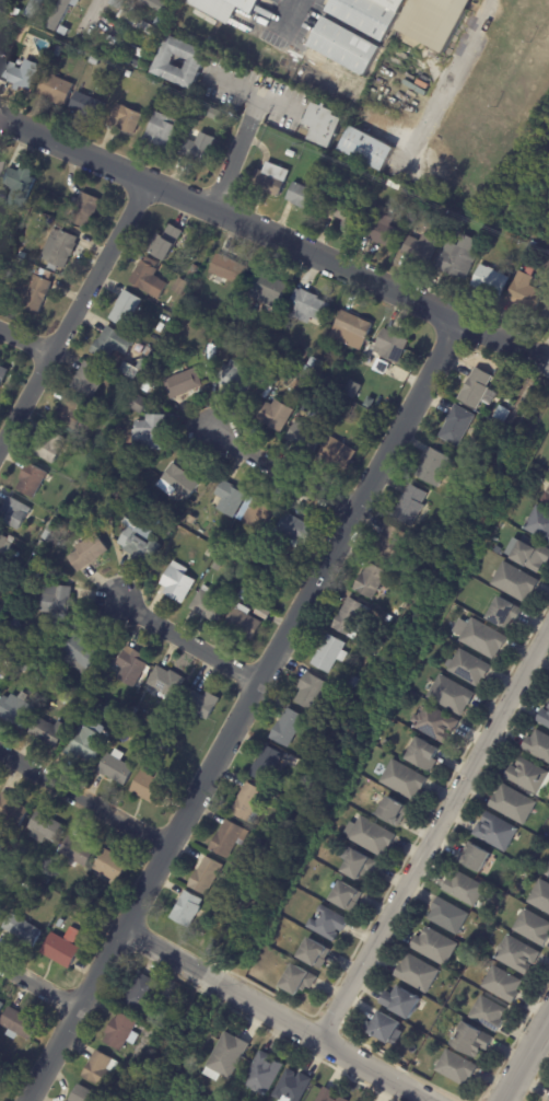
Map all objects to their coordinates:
building: (170, 1)
building: (118, 2)
building: (7, 3)
building: (154, 4)
building: (226, 7)
building: (34, 8)
building: (60, 13)
road: (98, 15)
road: (285, 15)
building: (371, 15)
building: (45, 16)
building: (139, 21)
building: (435, 21)
building: (162, 22)
building: (65, 31)
building: (127, 46)
building: (347, 46)
building: (57, 49)
building: (0, 55)
building: (95, 61)
building: (168, 62)
building: (142, 63)
building: (21, 73)
road: (448, 73)
building: (129, 74)
building: (57, 89)
building: (189, 96)
road: (257, 98)
building: (86, 104)
building: (217, 109)
building: (128, 118)
building: (325, 124)
building: (163, 131)
building: (369, 149)
building: (201, 150)
building: (292, 153)
road: (235, 155)
building: (1, 164)
building: (269, 182)
building: (20, 187)
building: (307, 197)
building: (86, 210)
building: (348, 212)
building: (2, 217)
road: (226, 219)
building: (14, 230)
building: (383, 231)
building: (9, 242)
building: (167, 243)
building: (61, 248)
building: (422, 248)
building: (530, 251)
building: (458, 259)
building: (230, 269)
building: (195, 271)
building: (150, 279)
building: (491, 281)
building: (183, 287)
building: (271, 288)
building: (525, 290)
building: (37, 293)
building: (190, 300)
building: (173, 305)
building: (311, 306)
building: (127, 309)
building: (547, 312)
road: (73, 315)
building: (168, 318)
building: (162, 327)
building: (353, 331)
road: (500, 341)
building: (242, 343)
building: (114, 344)
building: (392, 346)
road: (24, 347)
building: (149, 351)
building: (303, 356)
building: (272, 362)
building: (314, 362)
building: (307, 369)
building: (132, 371)
building: (3, 375)
building: (237, 379)
building: (91, 382)
building: (185, 384)
building: (149, 386)
building: (477, 387)
building: (354, 389)
building: (272, 394)
building: (140, 404)
building: (71, 414)
building: (504, 415)
building: (277, 416)
building: (458, 426)
building: (119, 430)
building: (151, 433)
building: (306, 437)
building: (52, 448)
building: (87, 452)
building: (339, 452)
building: (435, 468)
building: (539, 474)
road: (280, 475)
building: (33, 480)
building: (178, 483)
building: (230, 498)
building: (118, 499)
building: (547, 499)
building: (247, 505)
building: (412, 505)
building: (15, 513)
building: (540, 523)
building: (50, 531)
building: (292, 531)
building: (140, 542)
building: (394, 543)
building: (40, 544)
building: (7, 545)
building: (166, 545)
building: (87, 552)
building: (208, 553)
building: (532, 554)
building: (217, 567)
building: (264, 568)
building: (38, 575)
building: (372, 581)
building: (178, 582)
building: (516, 582)
building: (245, 594)
building: (56, 601)
building: (210, 605)
building: (504, 613)
building: (264, 614)
building: (352, 618)
building: (388, 619)
building: (244, 623)
building: (15, 625)
building: (482, 638)
road: (183, 645)
building: (82, 651)
building: (329, 653)
building: (62, 656)
building: (32, 659)
building: (132, 667)
building: (470, 668)
building: (24, 669)
building: (63, 676)
building: (167, 682)
building: (354, 682)
building: (93, 689)
building: (312, 691)
building: (452, 696)
building: (201, 704)
building: (16, 710)
road: (237, 711)
building: (140, 716)
building: (337, 717)
building: (545, 718)
building: (437, 725)
building: (290, 729)
building: (50, 732)
building: (89, 744)
building: (387, 744)
building: (538, 745)
building: (164, 746)
building: (424, 754)
building: (268, 765)
building: (116, 769)
building: (530, 777)
building: (405, 780)
building: (151, 789)
road: (84, 803)
building: (249, 803)
building: (283, 803)
building: (513, 804)
building: (12, 811)
building: (394, 812)
building: (358, 818)
building: (46, 827)
building: (497, 832)
road: (432, 833)
building: (373, 837)
building: (227, 839)
building: (261, 841)
building: (79, 850)
building: (477, 858)
building: (357, 864)
building: (112, 865)
building: (36, 874)
building: (548, 874)
building: (206, 876)
building: (16, 879)
building: (44, 880)
building: (465, 889)
building: (541, 896)
building: (346, 897)
building: (0, 907)
building: (188, 911)
building: (1, 912)
building: (69, 912)
building: (448, 917)
building: (329, 924)
building: (61, 925)
building: (534, 928)
building: (24, 929)
building: (435, 947)
building: (63, 948)
building: (209, 950)
building: (315, 954)
building: (517, 955)
building: (417, 974)
building: (300, 981)
building: (502, 985)
road: (38, 986)
building: (142, 992)
building: (402, 1004)
building: (2, 1007)
building: (489, 1015)
road: (269, 1016)
building: (20, 1024)
building: (387, 1030)
building: (122, 1031)
building: (471, 1041)
building: (229, 1057)
road: (525, 1057)
building: (102, 1068)
building: (457, 1068)
building: (265, 1073)
building: (294, 1087)
building: (86, 1096)
building: (332, 1096)
building: (548, 1100)

